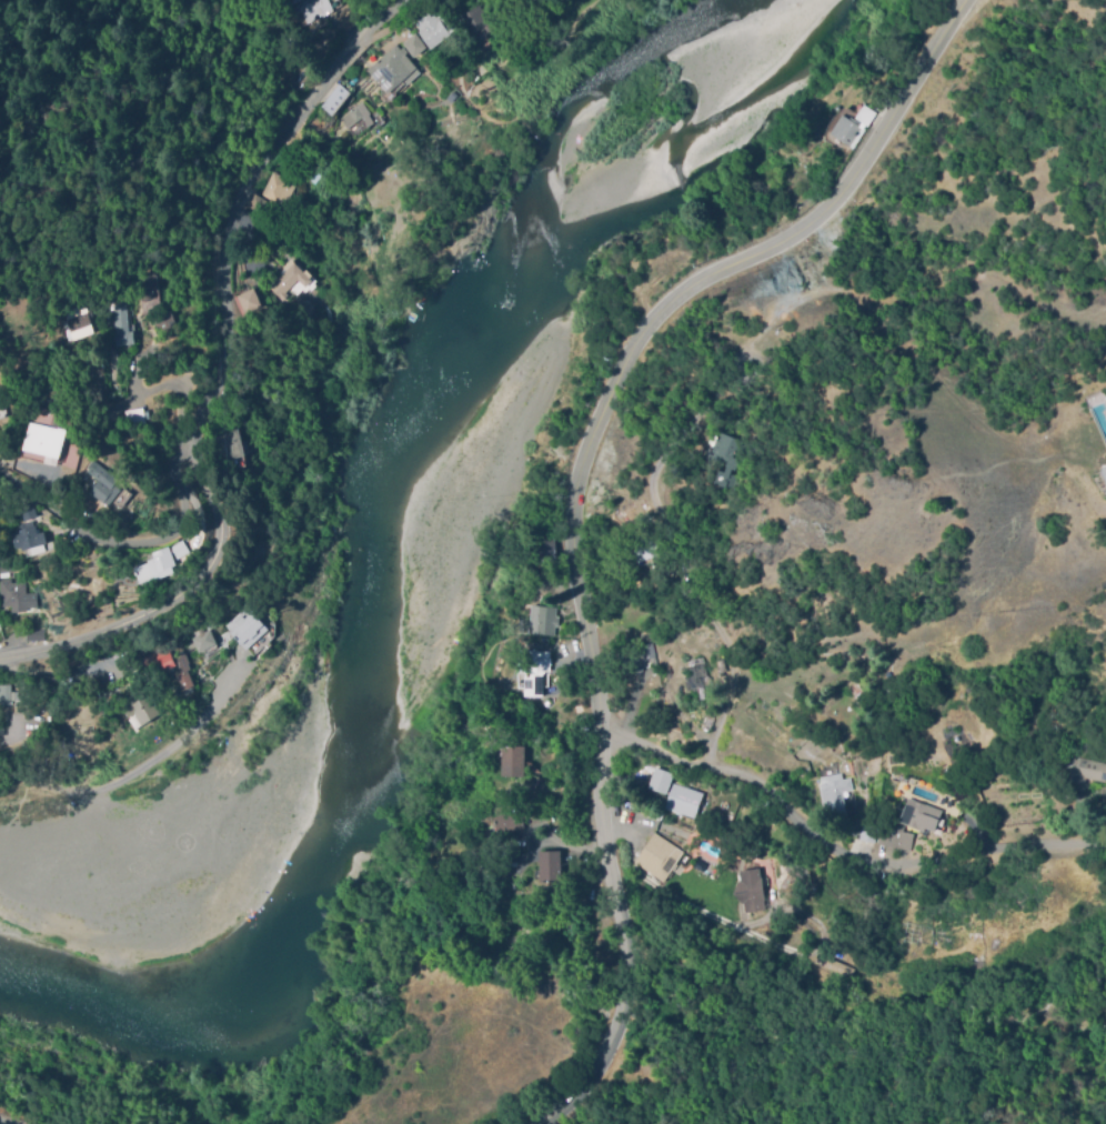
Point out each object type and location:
building: (306, 9)
building: (472, 22)
building: (429, 29)
park: (792, 36)
building: (412, 44)
building: (390, 69)
building: (333, 98)
building: (353, 116)
building: (851, 126)
building: (269, 194)
road: (237, 199)
building: (290, 280)
building: (143, 284)
building: (249, 301)
building: (144, 302)
building: (302, 308)
road: (672, 309)
building: (163, 321)
building: (74, 322)
building: (119, 325)
road: (173, 361)
building: (132, 417)
building: (43, 440)
building: (230, 442)
building: (69, 452)
building: (720, 452)
building: (1104, 471)
building: (728, 474)
building: (102, 484)
building: (28, 512)
building: (28, 538)
road: (130, 541)
building: (179, 550)
building: (547, 550)
building: (647, 550)
building: (155, 566)
river: (362, 576)
building: (16, 598)
road: (168, 599)
building: (544, 622)
building: (245, 628)
building: (34, 634)
building: (201, 640)
building: (157, 660)
building: (721, 664)
building: (534, 670)
building: (697, 671)
building: (181, 674)
building: (50, 690)
building: (4, 693)
building: (80, 698)
road: (212, 704)
building: (141, 712)
building: (707, 722)
building: (512, 761)
building: (1085, 769)
building: (660, 780)
building: (832, 793)
building: (681, 801)
building: (1100, 806)
building: (919, 815)
building: (507, 821)
building: (898, 836)
road: (837, 846)
building: (658, 857)
building: (494, 859)
building: (551, 870)
building: (750, 891)
road: (614, 935)
building: (833, 965)
road: (12, 1118)

